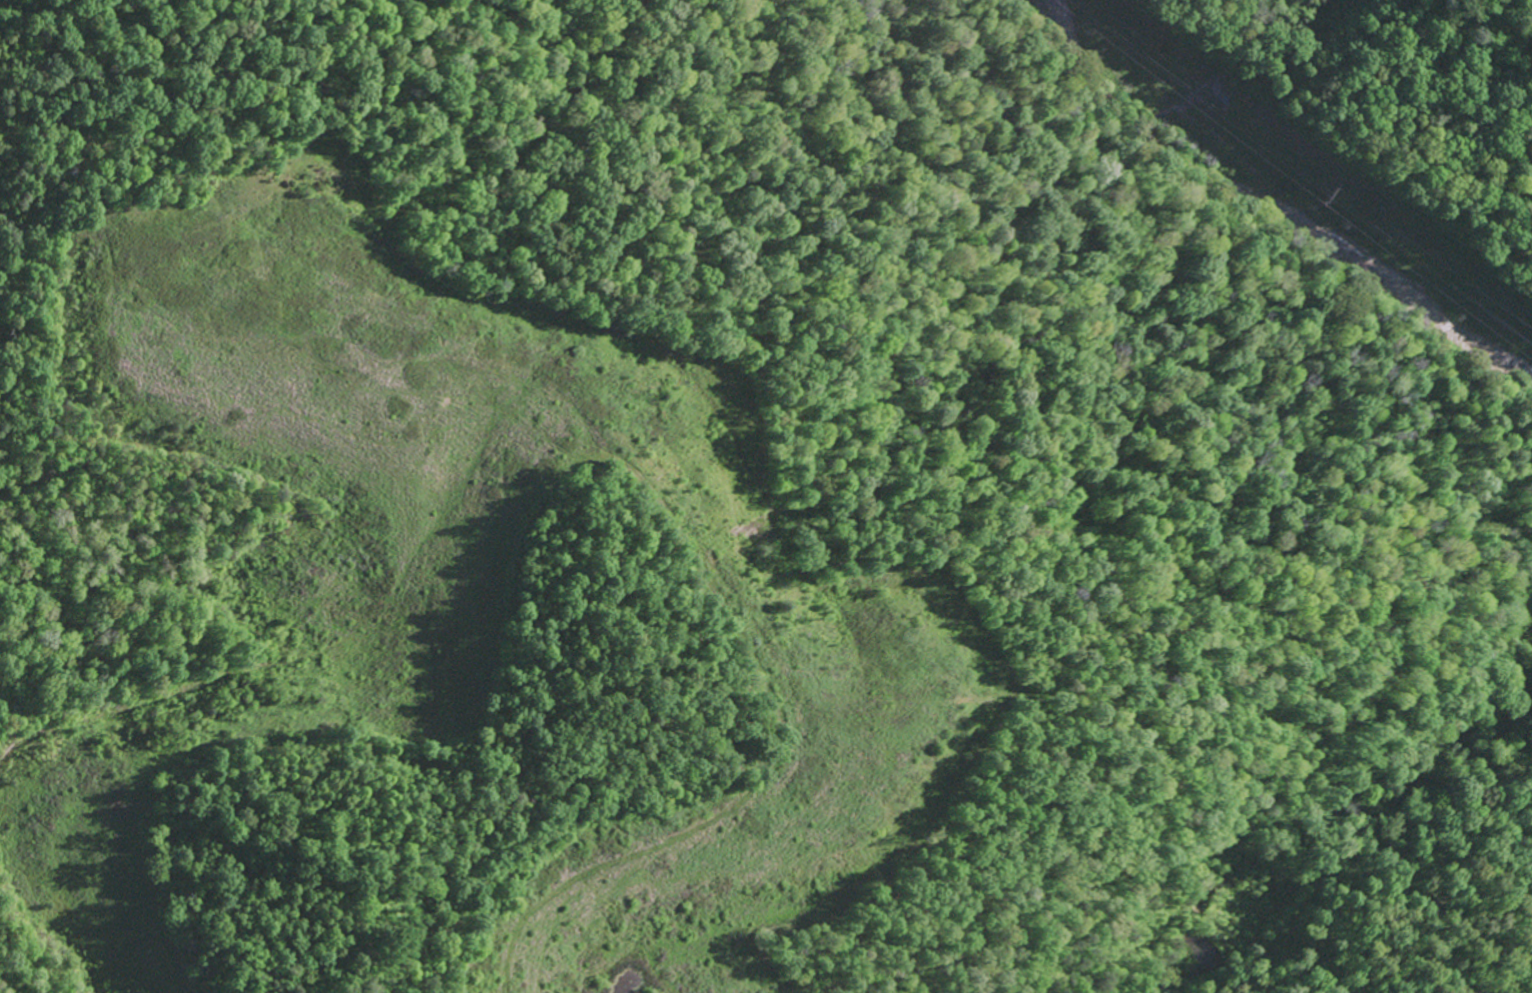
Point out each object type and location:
power tower: (1328, 188)

